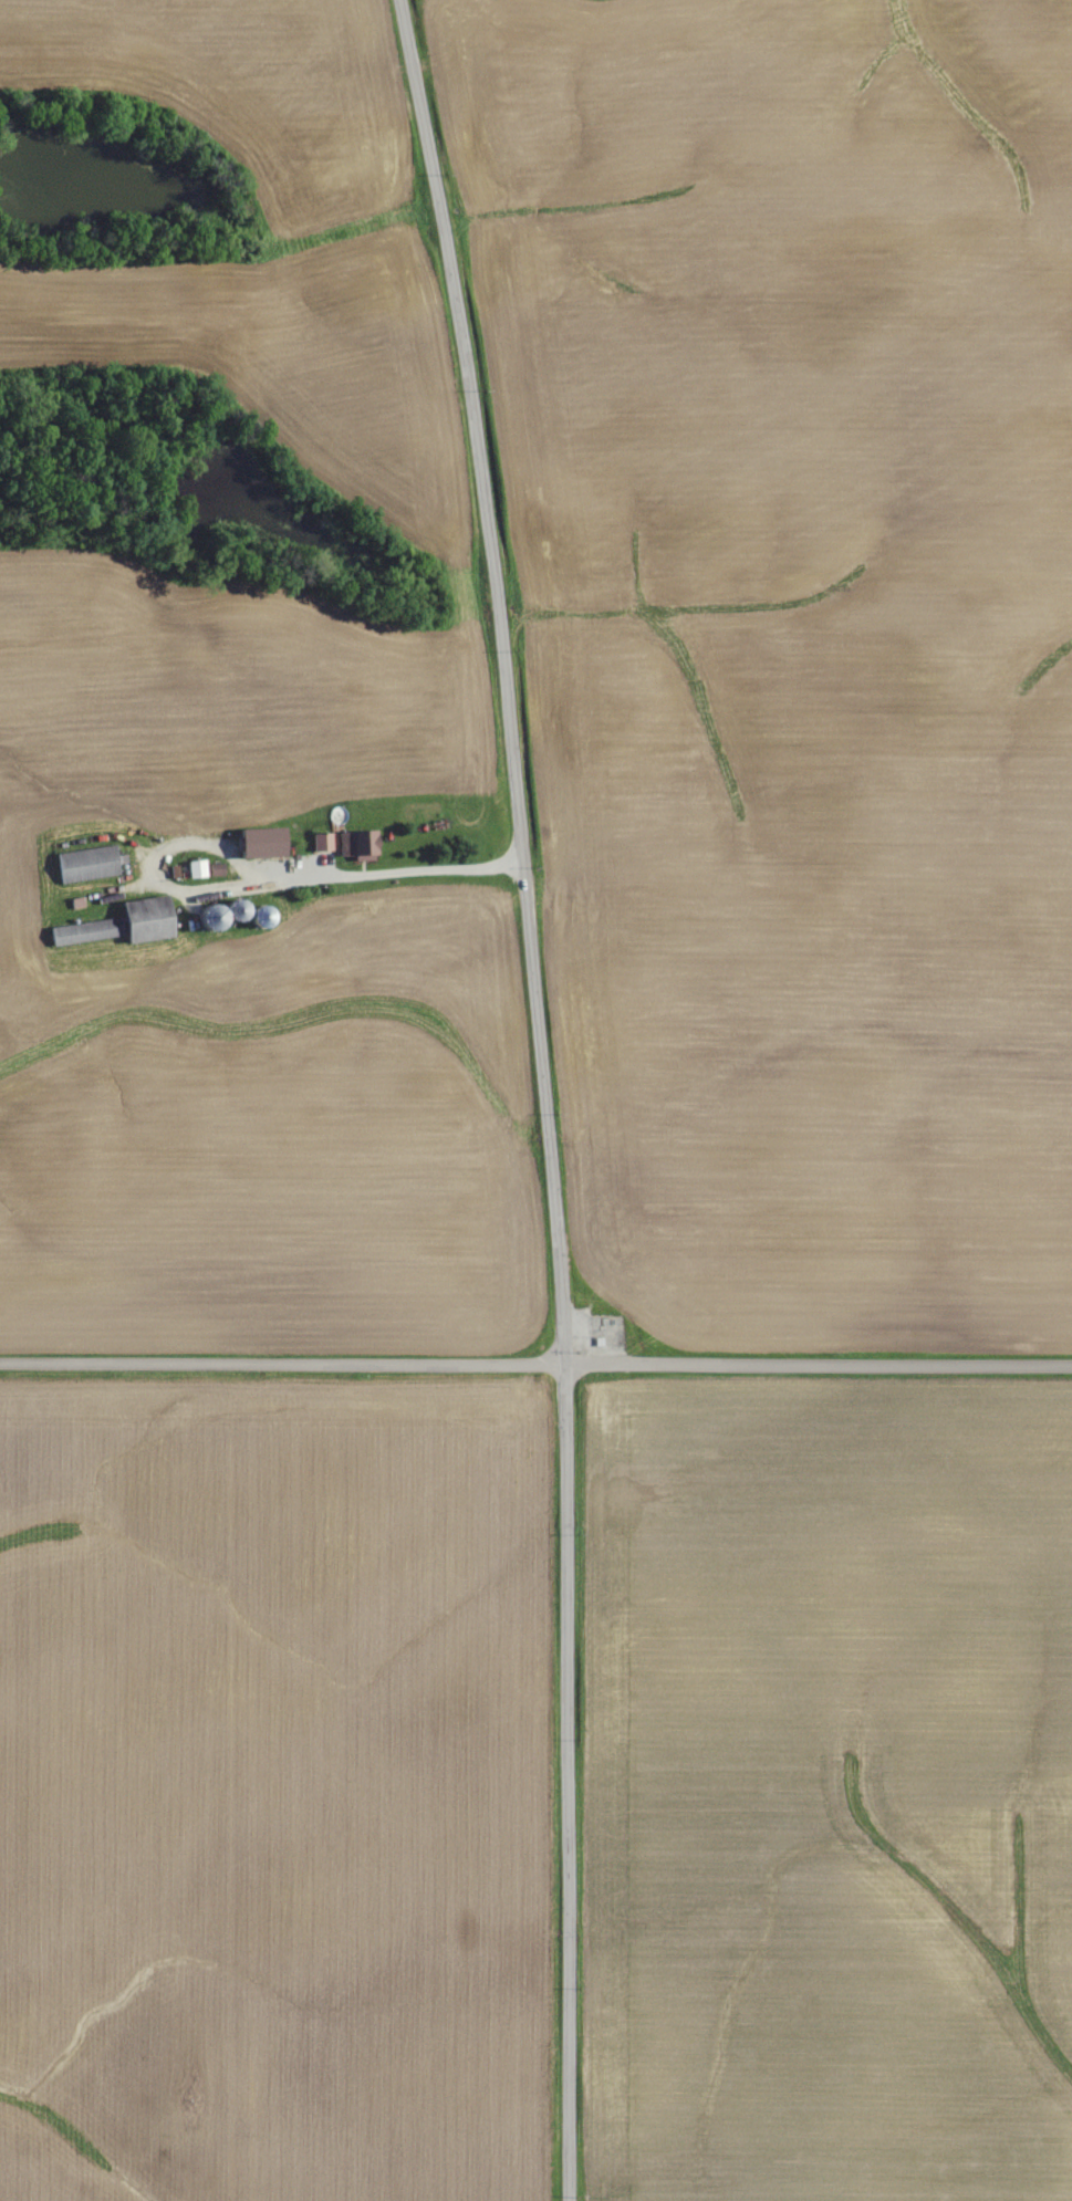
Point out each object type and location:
building: (320, 843)
building: (258, 844)
building: (355, 846)
building: (84, 865)
building: (194, 869)
building: (121, 925)
road: (542, 1096)
road: (535, 1367)

